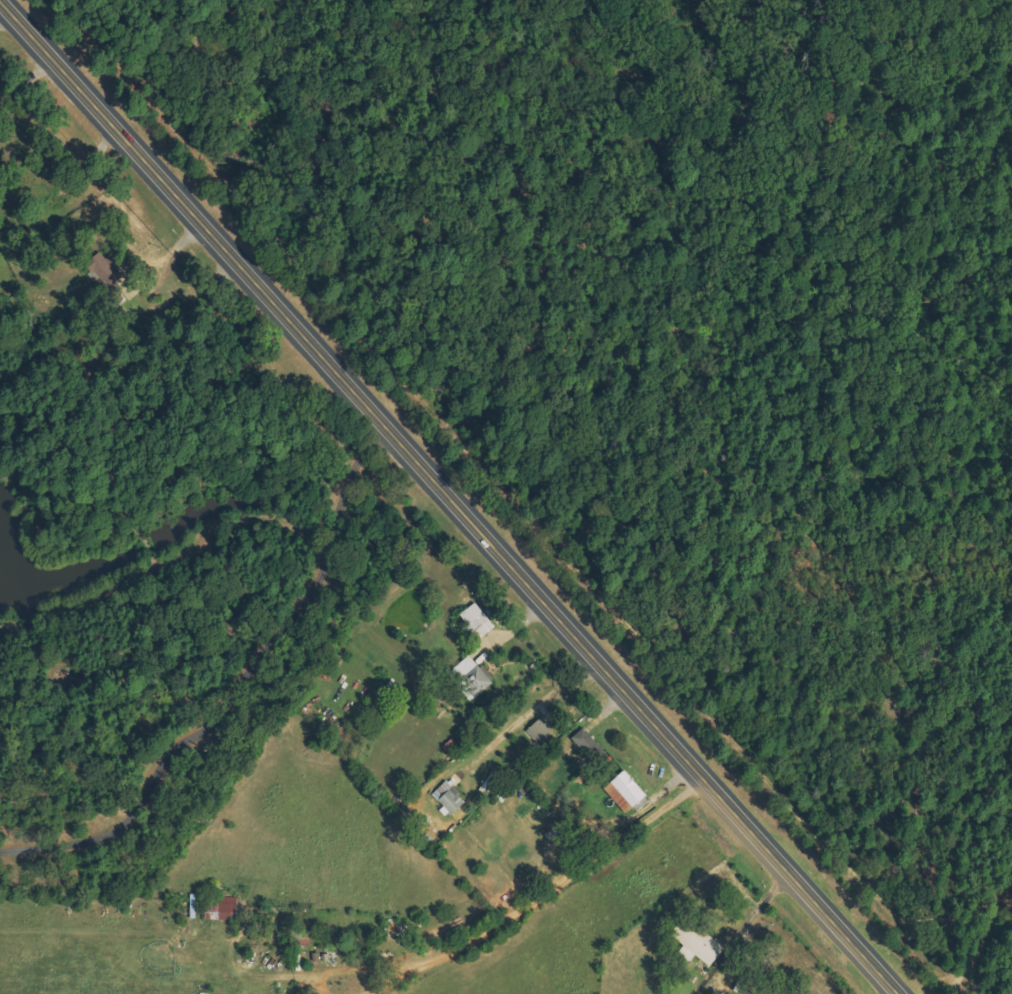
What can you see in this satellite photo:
road: (47, 132)
road: (451, 496)
building: (477, 622)
building: (472, 677)
building: (540, 732)
road: (255, 741)
building: (589, 744)
building: (630, 788)
building: (450, 797)
building: (619, 797)
building: (557, 834)
road: (659, 907)
building: (223, 909)
building: (699, 940)

